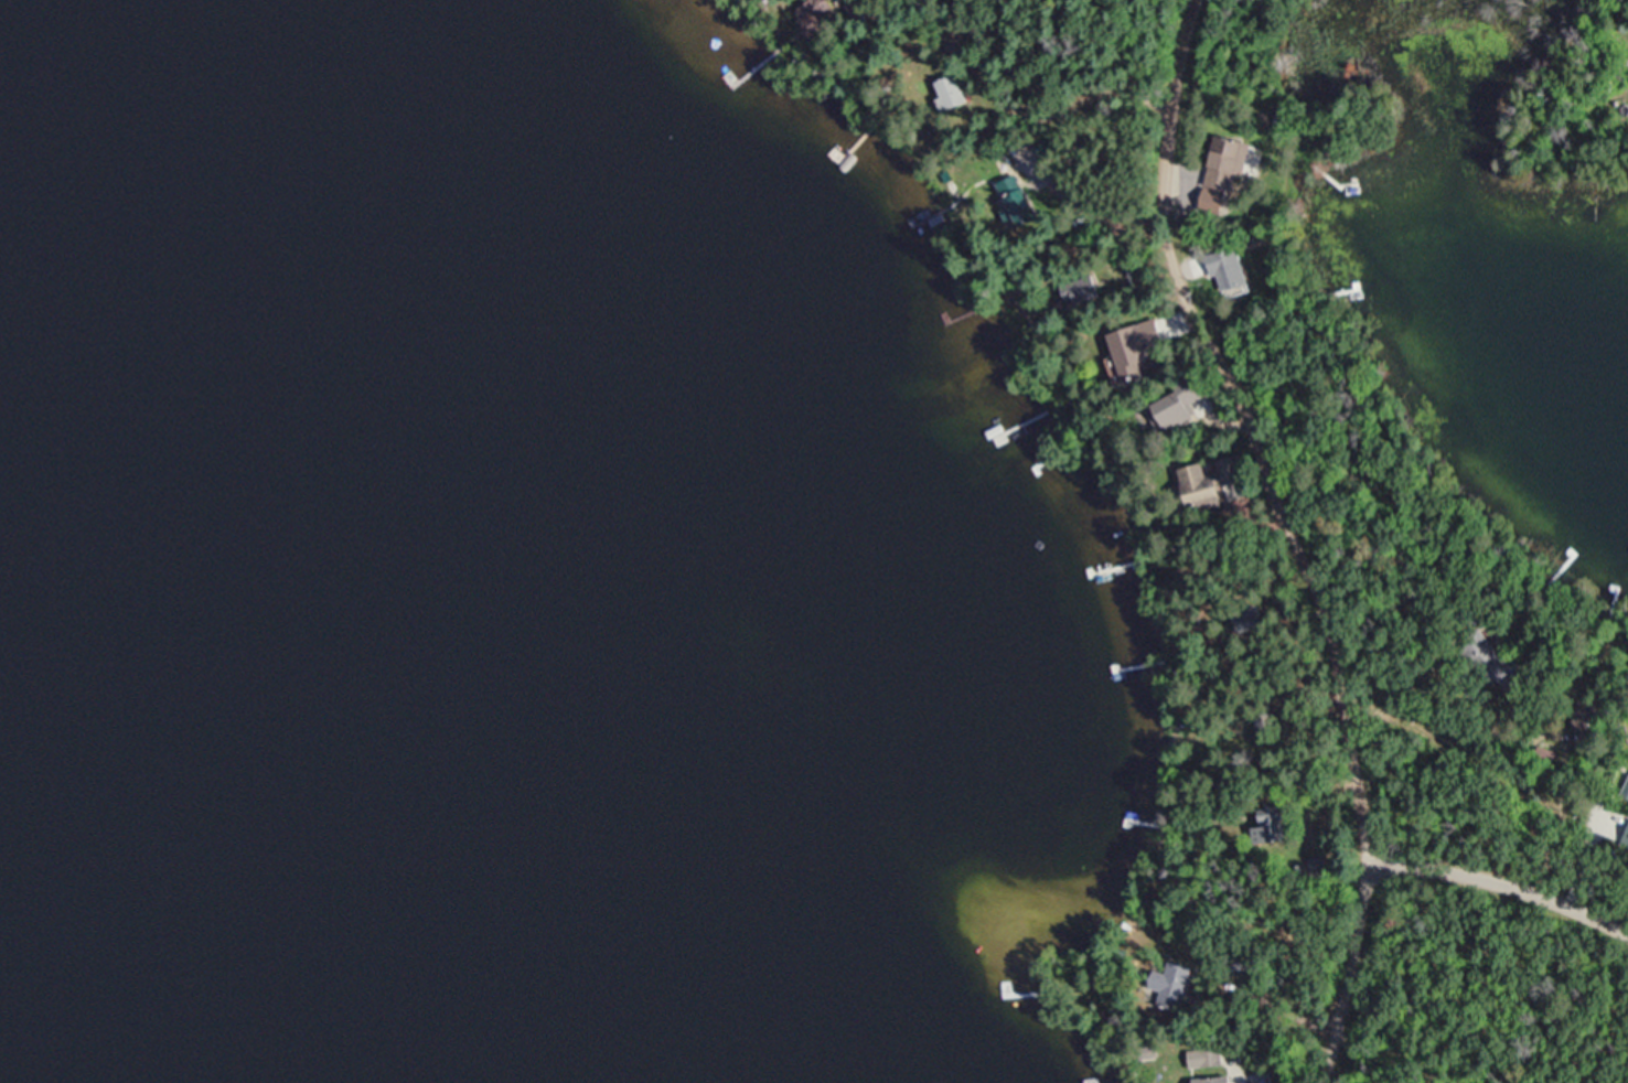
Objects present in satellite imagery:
building: (815, 17)
building: (987, 32)
building: (951, 92)
building: (1083, 290)
building: (1116, 355)
building: (1188, 403)
building: (1228, 468)
road: (1295, 535)
building: (1596, 714)
building: (1267, 723)
building: (1434, 774)
building: (1272, 824)
building: (1619, 827)
road: (1501, 878)
building: (1177, 985)
building: (1207, 1058)
building: (1214, 1080)

